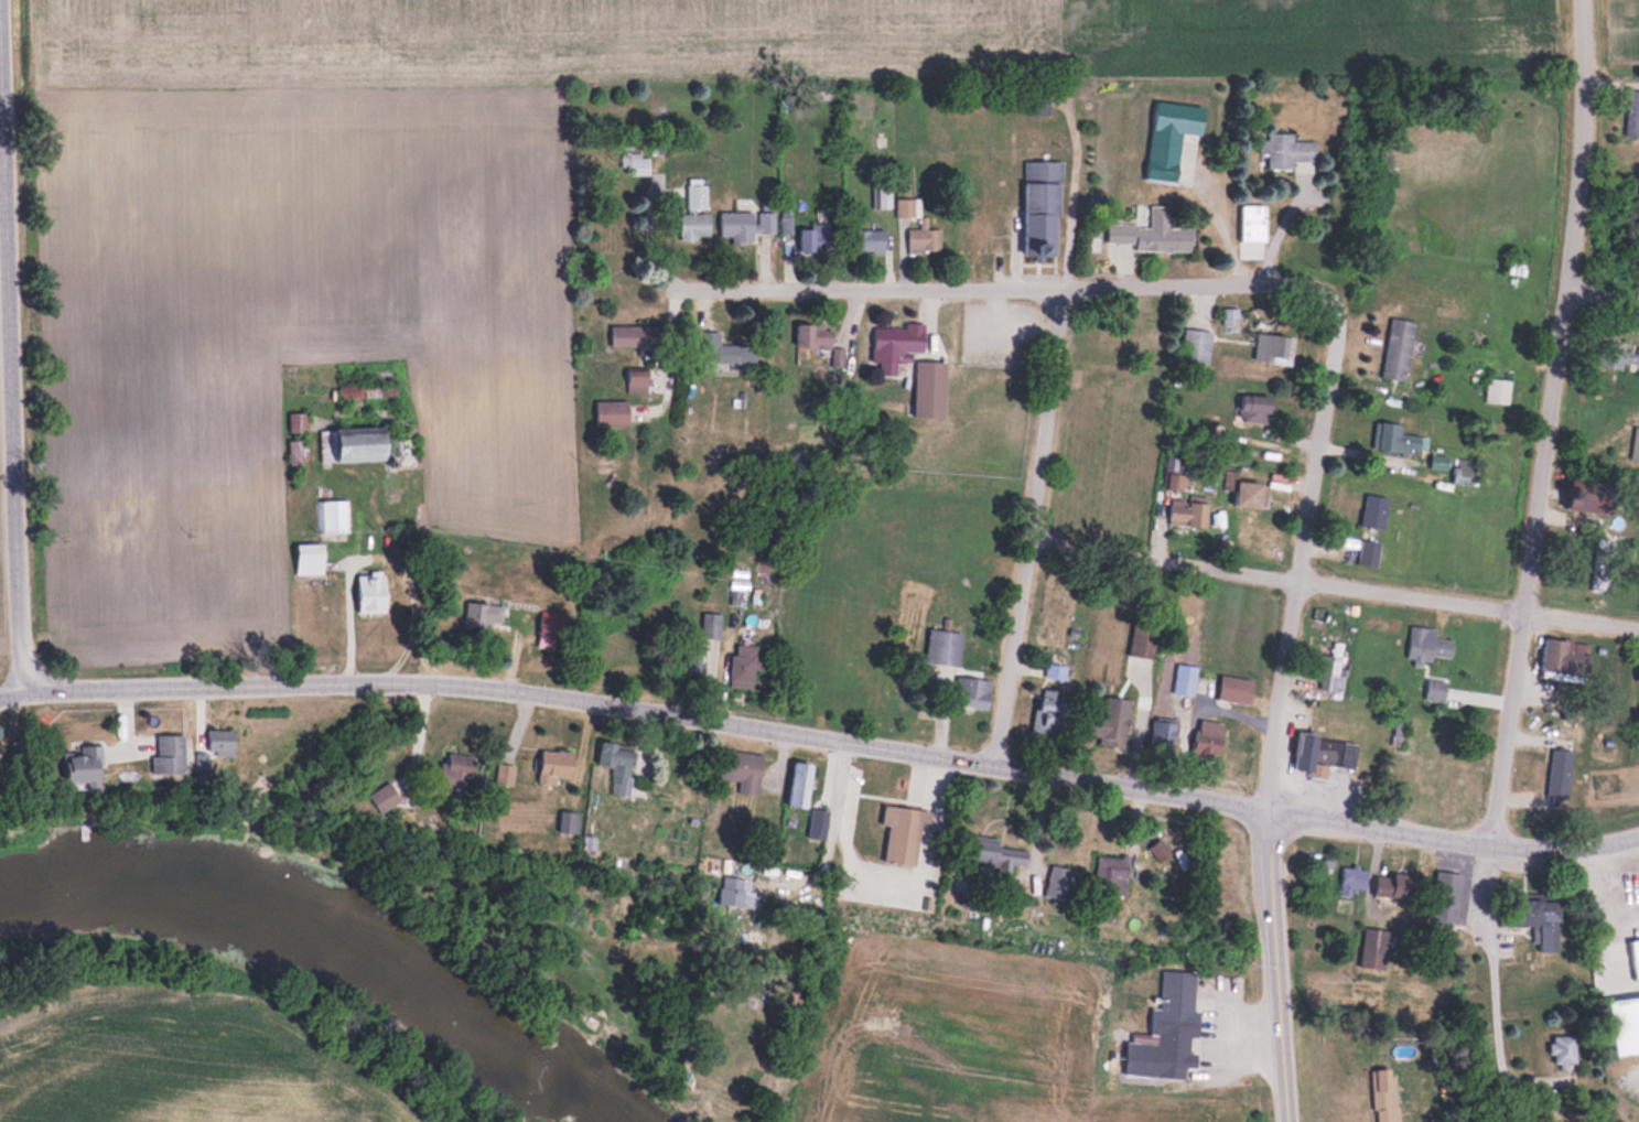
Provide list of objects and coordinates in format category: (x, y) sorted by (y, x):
building: (1632, 112)
building: (1284, 149)
building: (1163, 154)
building: (636, 163)
building: (905, 207)
building: (1040, 207)
building: (694, 212)
building: (1252, 223)
building: (745, 224)
road: (1283, 231)
building: (1152, 233)
building: (816, 237)
road: (1227, 238)
building: (924, 239)
building: (867, 240)
building: (1517, 267)
road: (980, 296)
road: (1602, 301)
building: (813, 334)
building: (632, 335)
building: (897, 342)
building: (1196, 345)
building: (1274, 347)
building: (1398, 347)
building: (718, 348)
road: (13, 352)
building: (1618, 354)
building: (637, 380)
building: (930, 388)
building: (1498, 390)
building: (1254, 408)
building: (611, 411)
road: (1548, 425)
building: (1397, 438)
building: (1635, 444)
building: (368, 446)
building: (1438, 464)
building: (1464, 471)
building: (1176, 473)
building: (1251, 494)
building: (1588, 497)
building: (1374, 510)
building: (1187, 511)
building: (334, 515)
road: (1036, 535)
building: (1368, 552)
building: (309, 559)
road: (1300, 560)
building: (1600, 567)
road: (1277, 584)
building: (371, 591)
building: (482, 613)
road: (1581, 622)
road: (348, 623)
building: (711, 624)
building: (548, 635)
building: (1144, 638)
building: (1426, 645)
building: (943, 647)
building: (1564, 656)
building: (694, 662)
building: (745, 665)
building: (1331, 669)
building: (1434, 688)
building: (1234, 689)
building: (971, 691)
building: (1050, 713)
road: (637, 714)
building: (1114, 719)
building: (220, 742)
road: (389, 743)
building: (1206, 745)
building: (1322, 753)
building: (169, 754)
building: (553, 765)
building: (617, 765)
building: (83, 767)
building: (741, 769)
building: (505, 773)
building: (456, 774)
building: (1559, 774)
building: (799, 784)
building: (384, 797)
building: (568, 820)
road: (832, 821)
building: (817, 822)
building: (901, 833)
road: (1454, 845)
building: (1158, 849)
building: (991, 859)
building: (1110, 874)
building: (1351, 878)
building: (1057, 881)
building: (1393, 884)
building: (735, 891)
road: (1606, 897)
building: (1444, 903)
building: (1538, 920)
river: (326, 935)
building: (1373, 947)
building: (1635, 957)
road: (1280, 969)
road: (1494, 985)
building: (1167, 1029)
building: (1563, 1049)
building: (1384, 1094)

